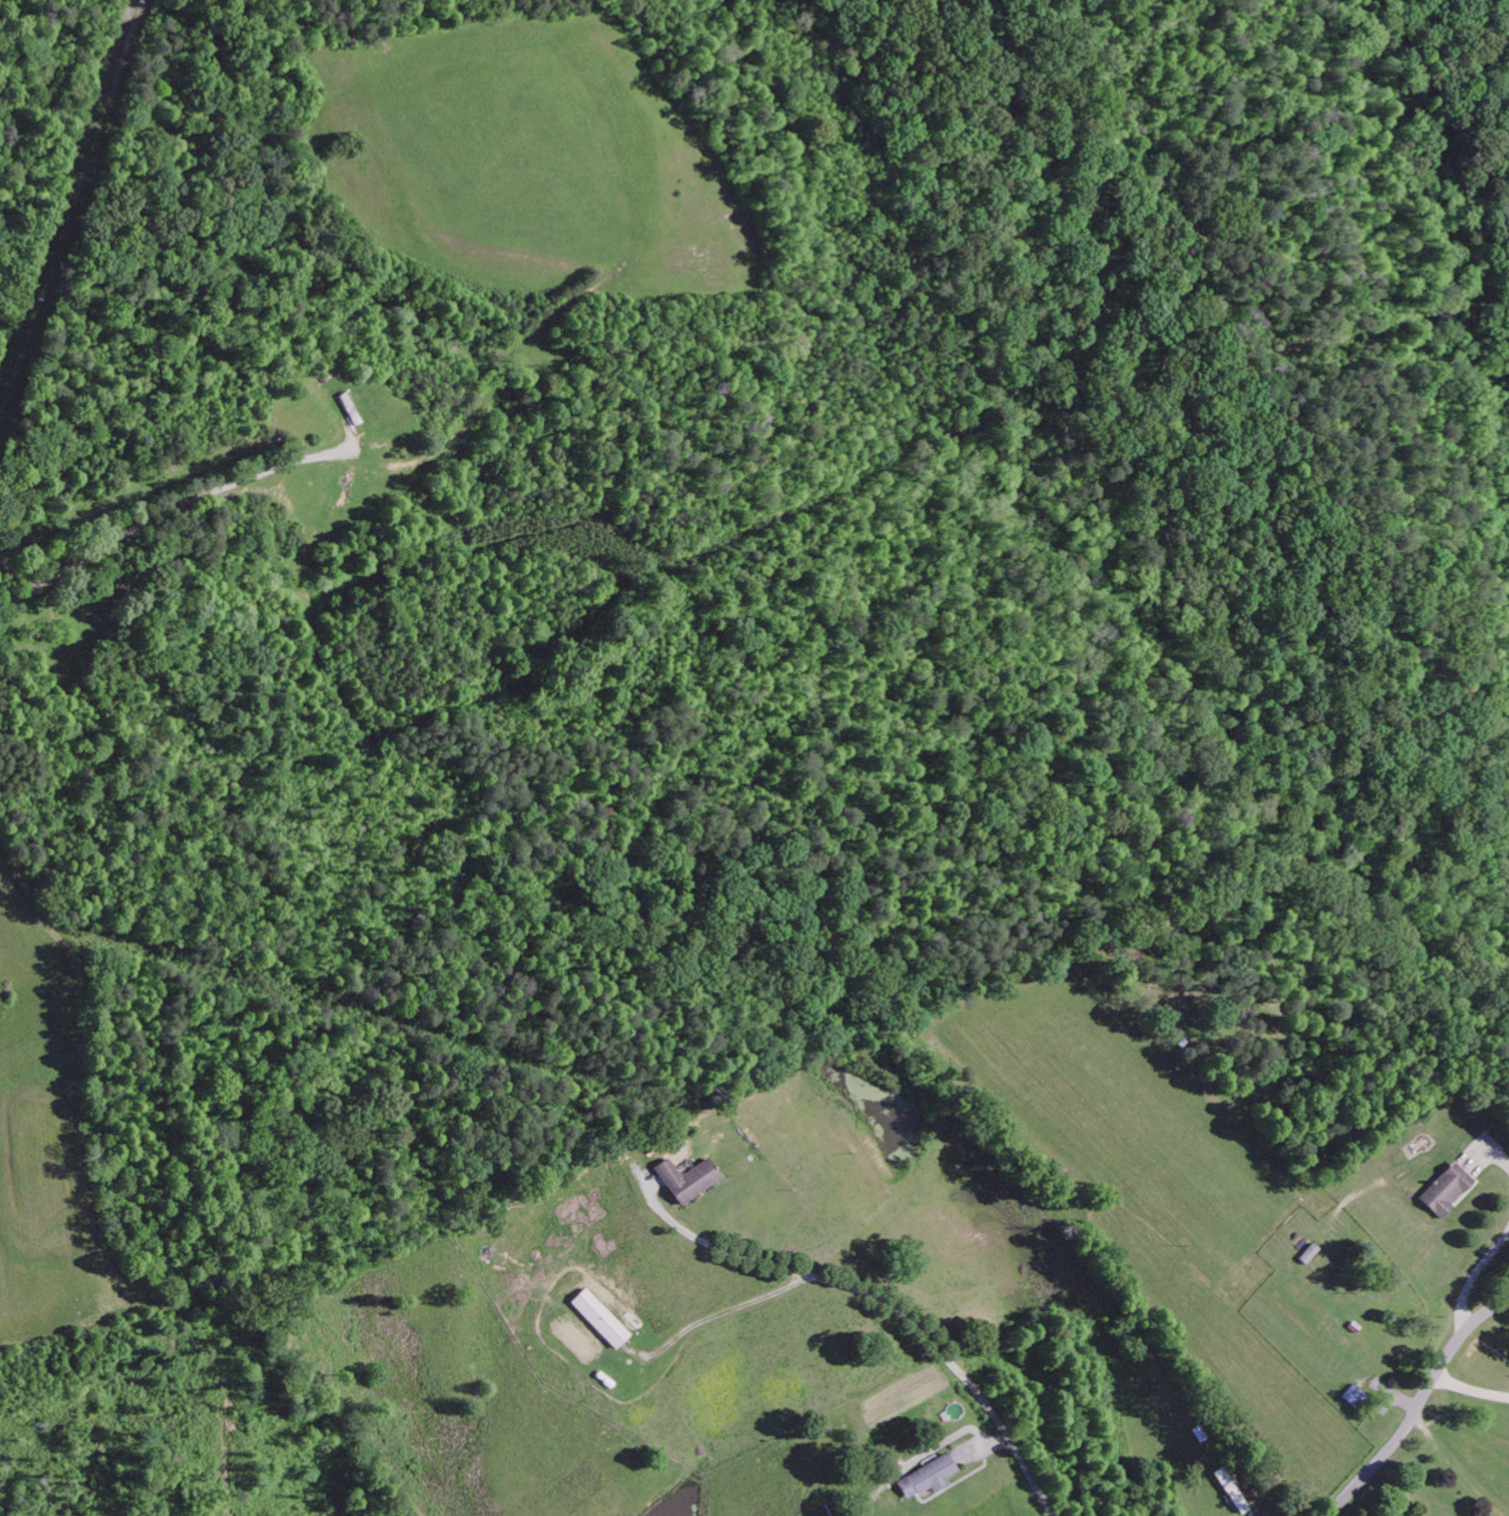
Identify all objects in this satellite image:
road: (166, 511)
building: (684, 1181)
building: (1444, 1191)
building: (1307, 1255)
building: (598, 1320)
building: (1350, 1397)
road: (1416, 1405)
building: (924, 1479)
building: (1229, 1492)

